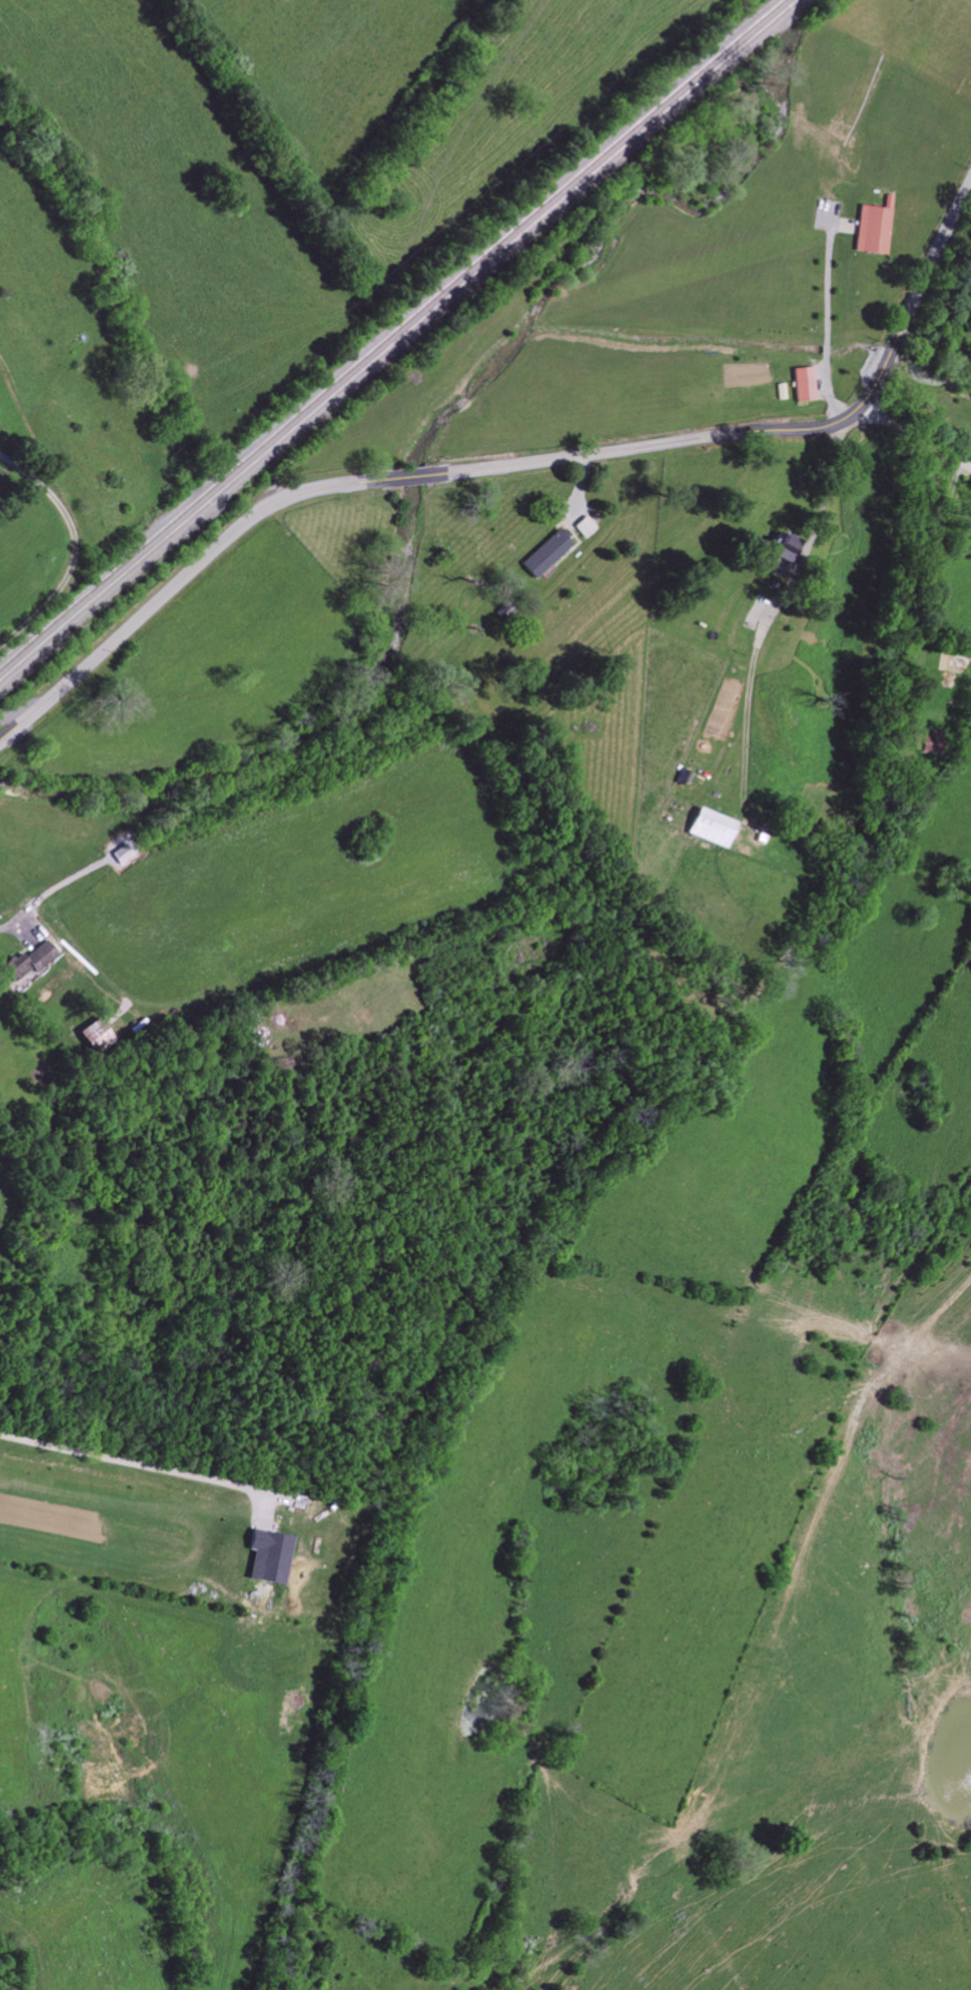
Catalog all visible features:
building: (876, 231)
road: (822, 321)
railway: (390, 333)
railway: (398, 340)
building: (806, 386)
road: (914, 438)
road: (514, 462)
building: (589, 527)
road: (70, 547)
building: (788, 548)
building: (551, 553)
road: (772, 610)
road: (15, 709)
building: (932, 741)
building: (715, 828)
road: (11, 934)
building: (32, 961)
building: (99, 1036)
road: (130, 1468)
building: (271, 1558)

